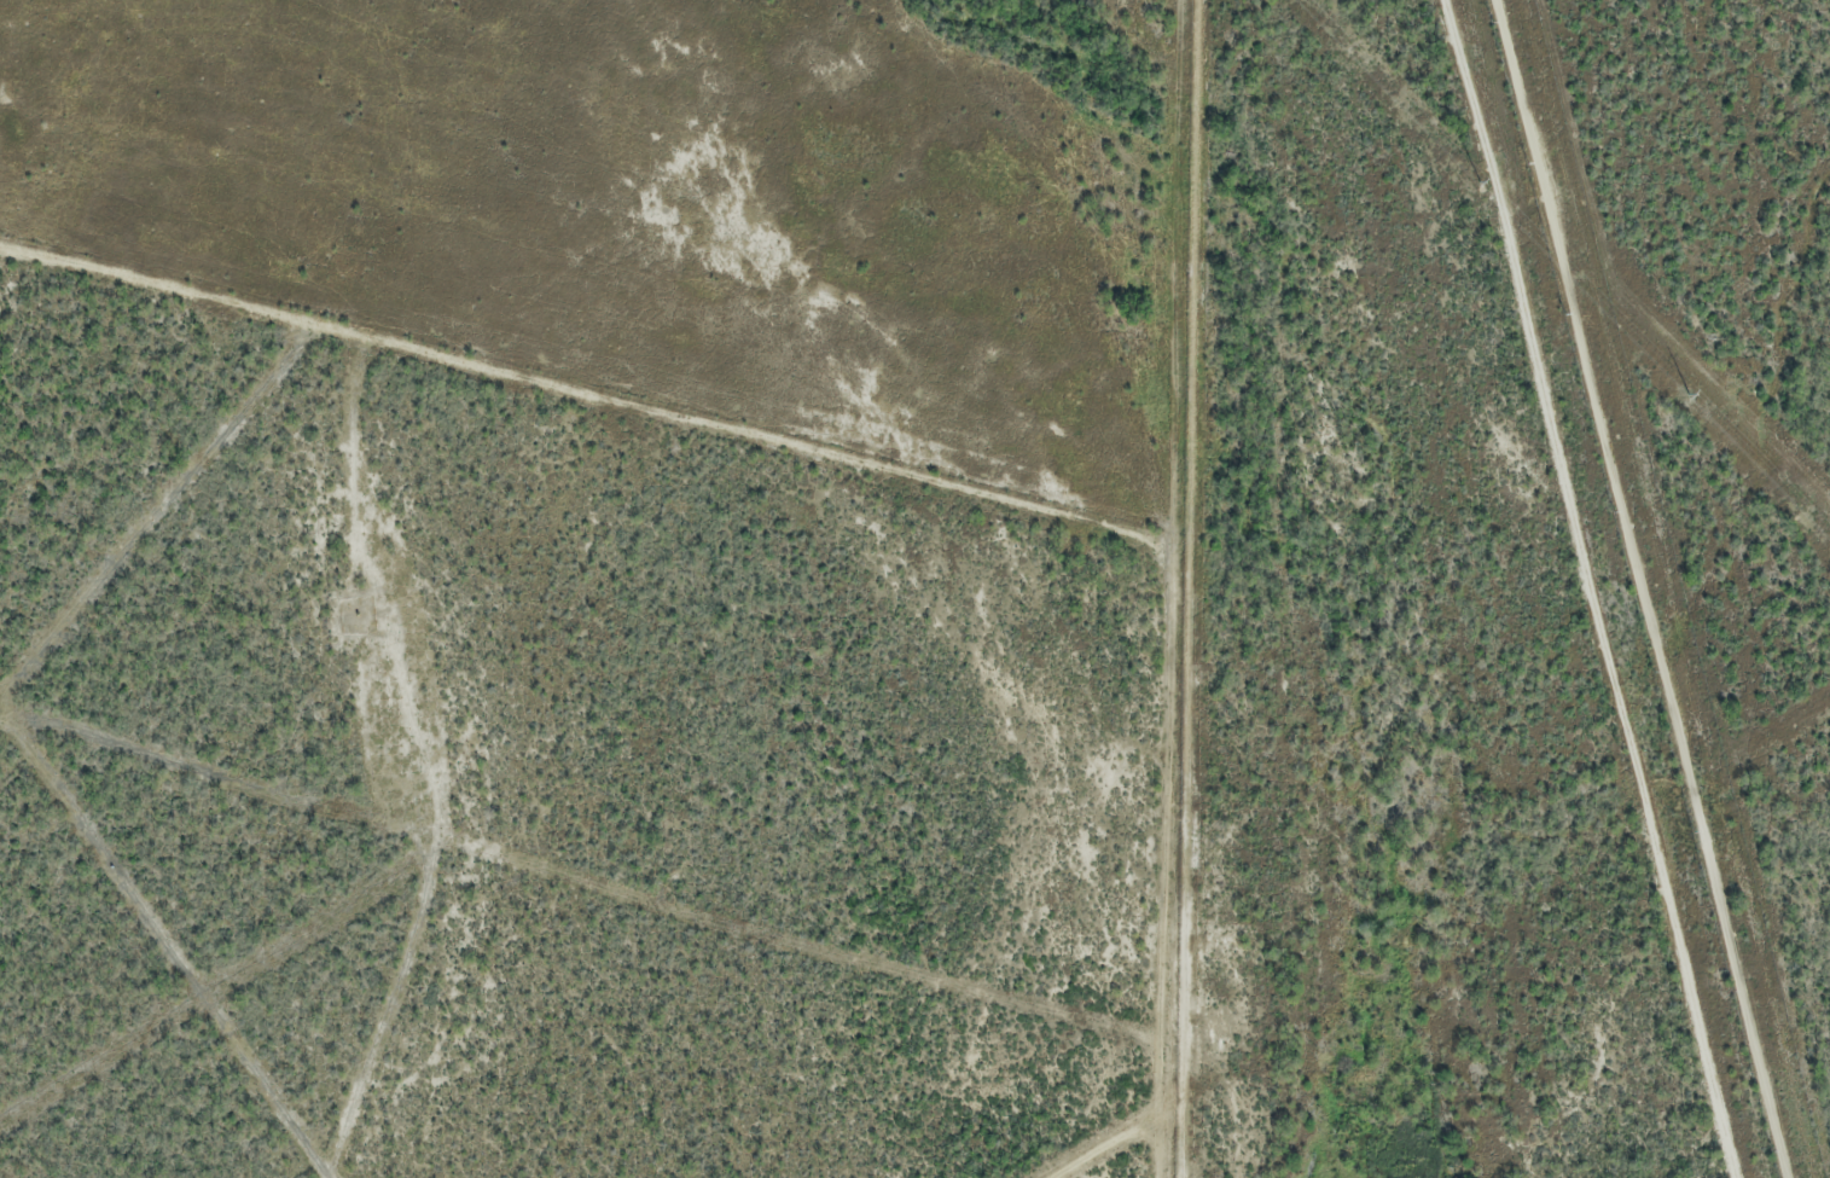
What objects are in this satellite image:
power tower: (1491, 197)
power tower: (1689, 396)

